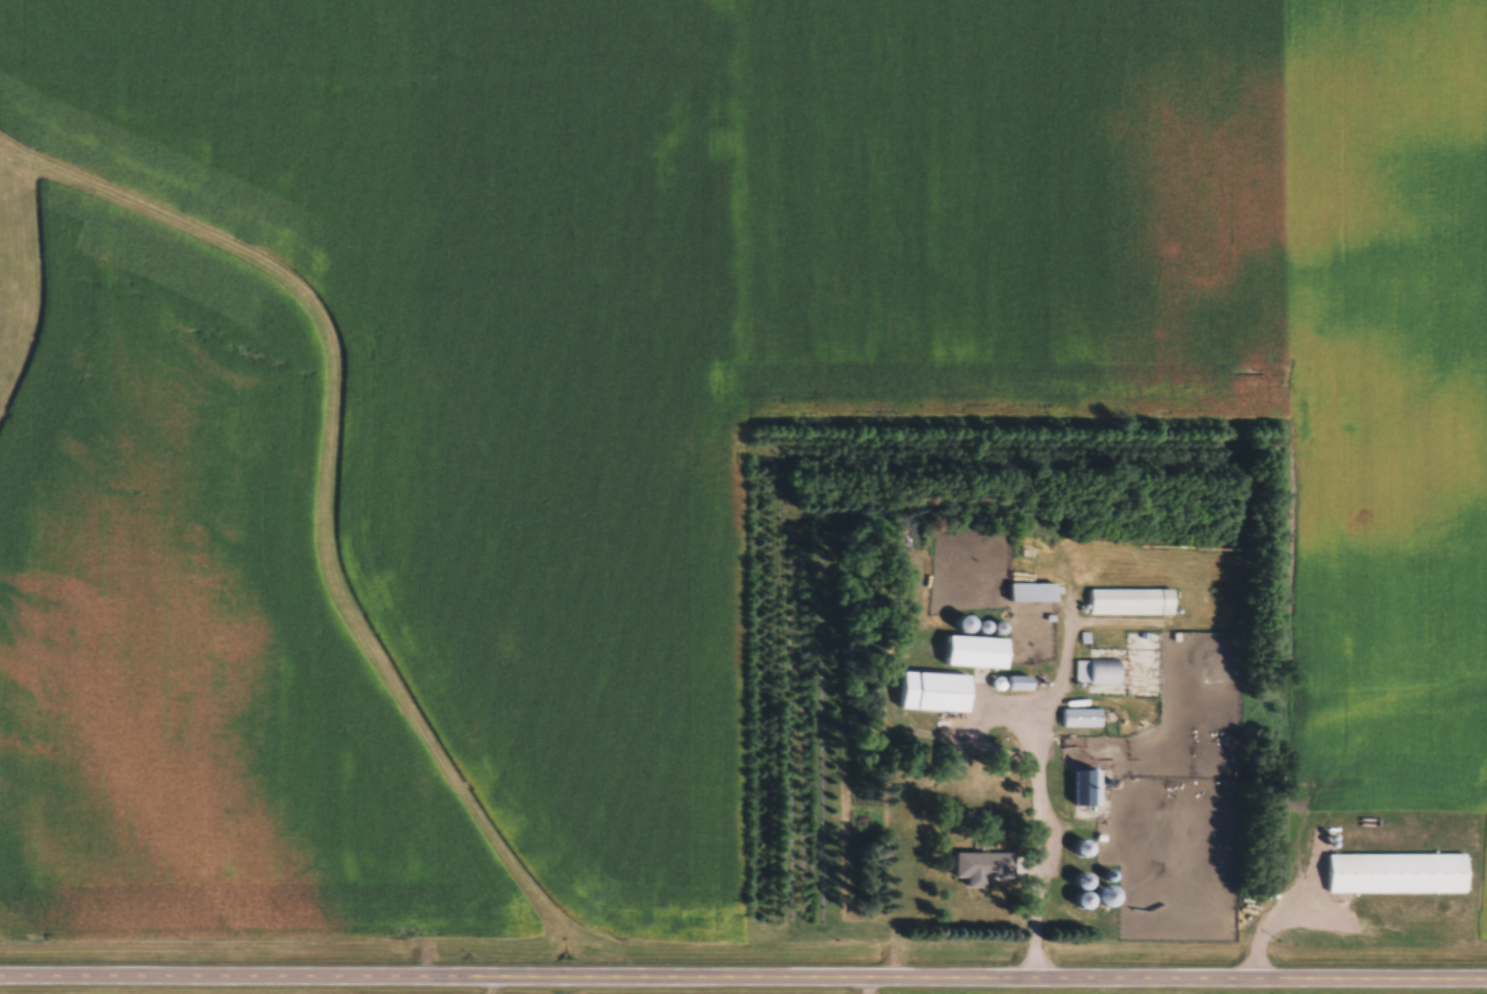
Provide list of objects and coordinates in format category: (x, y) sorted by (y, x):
building: (1031, 592)
building: (1130, 602)
building: (962, 623)
building: (974, 652)
building: (1096, 671)
building: (932, 692)
building: (1080, 718)
road: (1036, 786)
building: (1086, 787)
building: (1081, 848)
building: (983, 865)
building: (1395, 873)
building: (1081, 891)
building: (1106, 896)
road: (743, 972)

